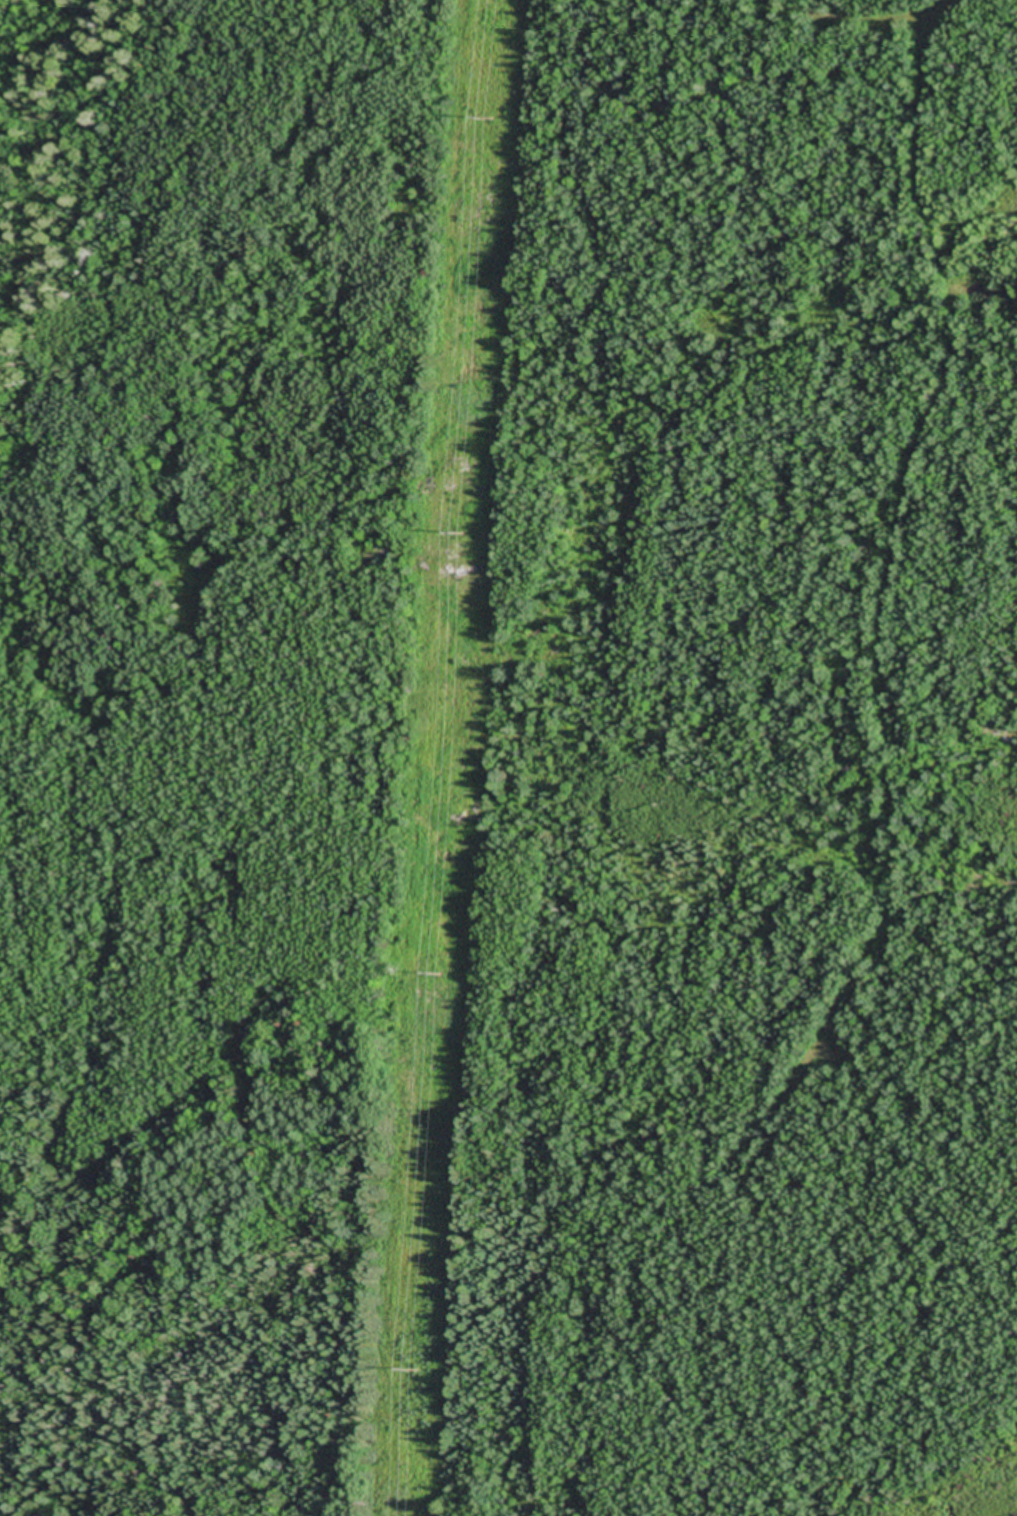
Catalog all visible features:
power tower: (487, 120)
power tower: (462, 536)
power tower: (436, 974)
power tower: (411, 1371)

